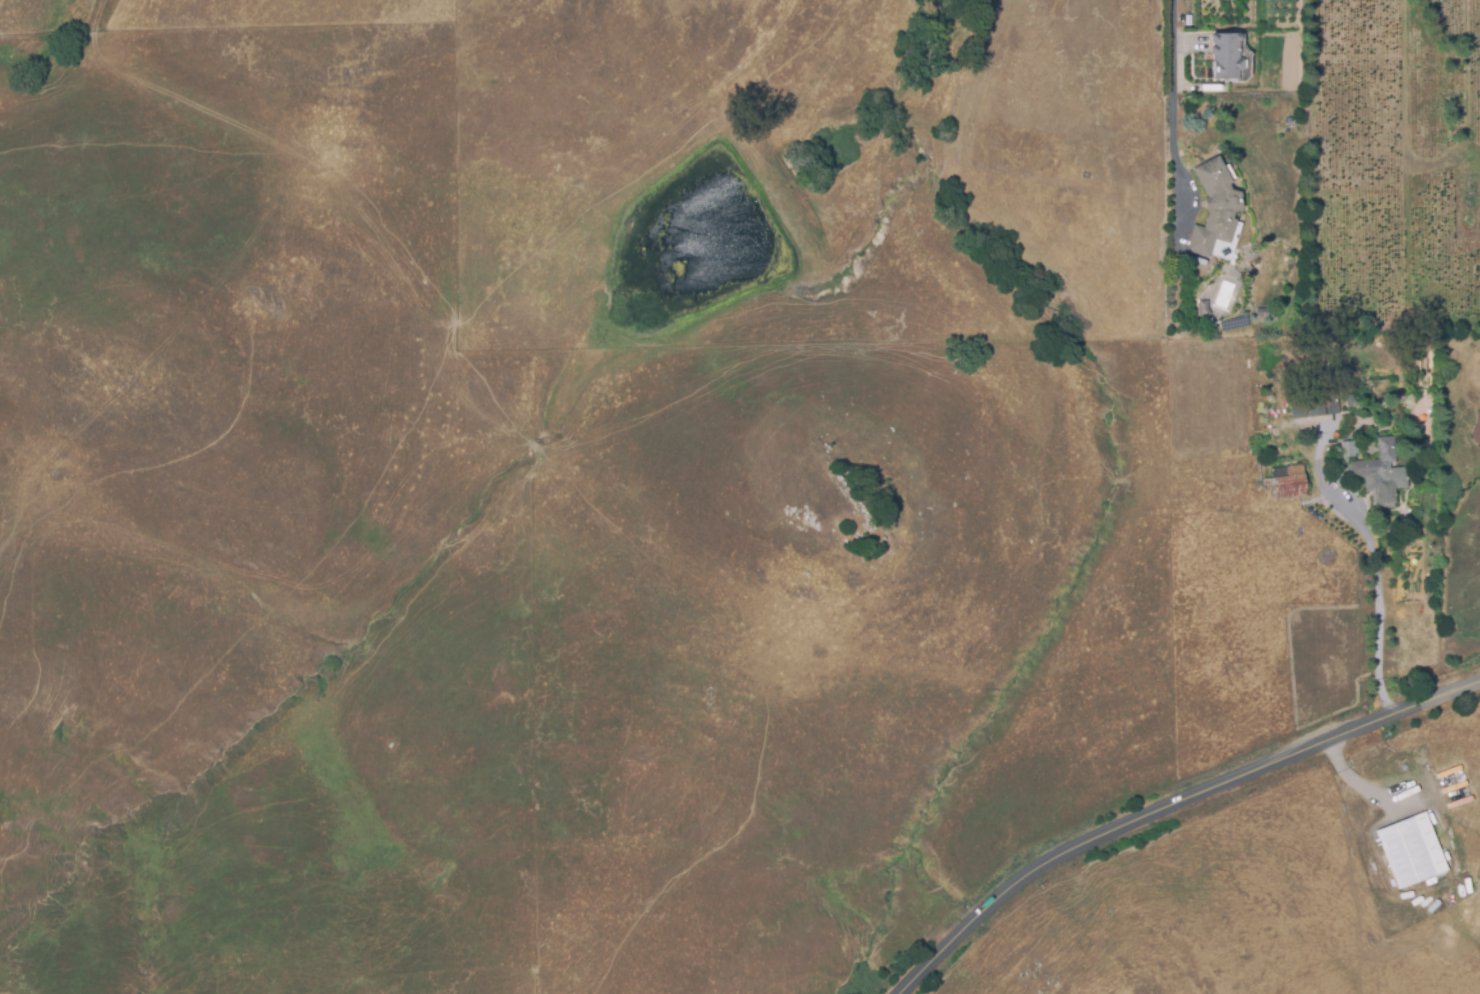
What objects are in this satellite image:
building: (1227, 54)
road: (1171, 77)
building: (1216, 206)
building: (1362, 394)
building: (1351, 400)
building: (1310, 405)
building: (1477, 428)
building: (1348, 449)
building: (1381, 472)
building: (1288, 483)
road: (1376, 599)
road: (1359, 783)
road: (1171, 805)
building: (1411, 852)

